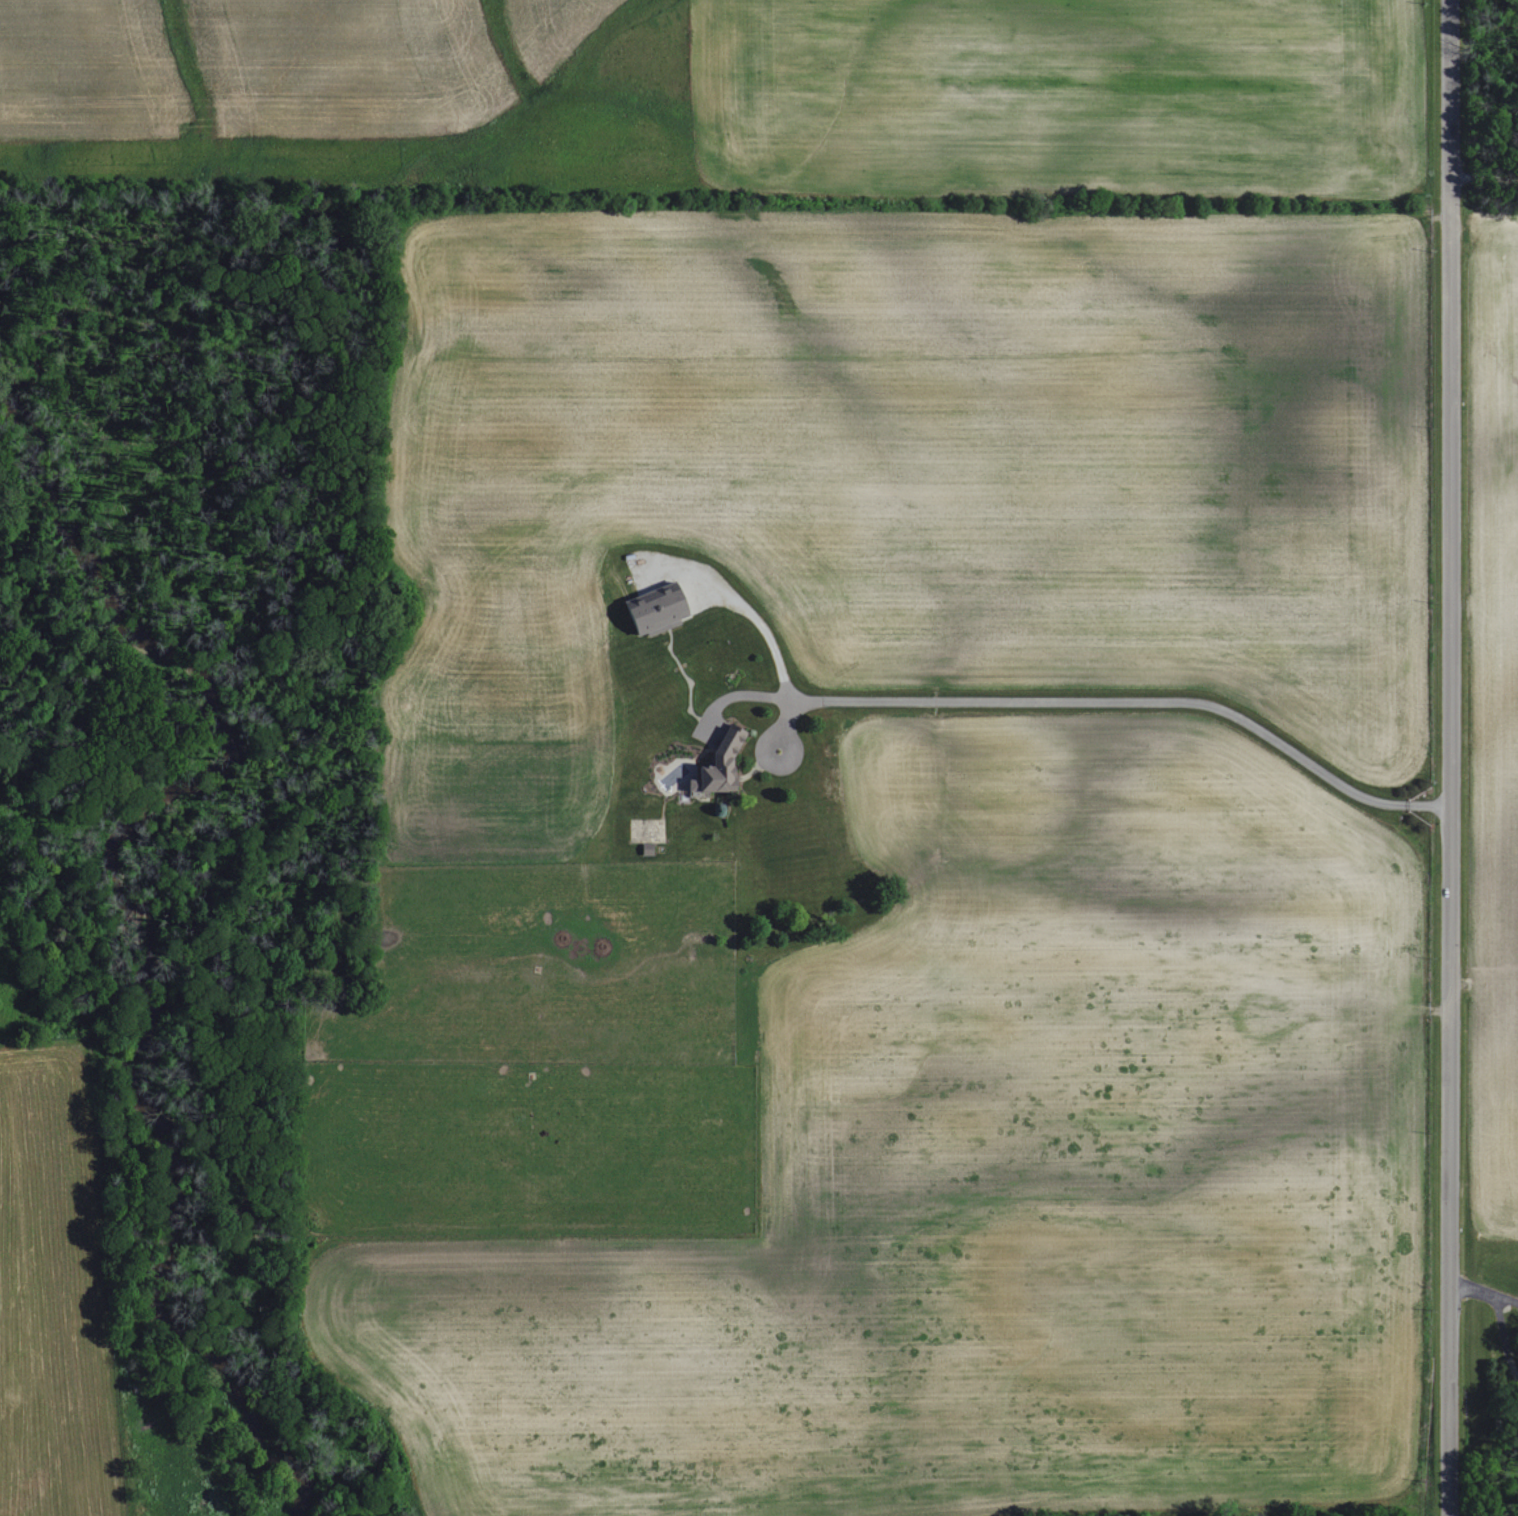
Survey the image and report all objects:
road: (1478, 177)
road: (741, 605)
building: (652, 611)
road: (1117, 702)
road: (766, 742)
road: (1450, 757)
road: (1469, 1290)
road: (1506, 1299)
road: (1503, 1339)

